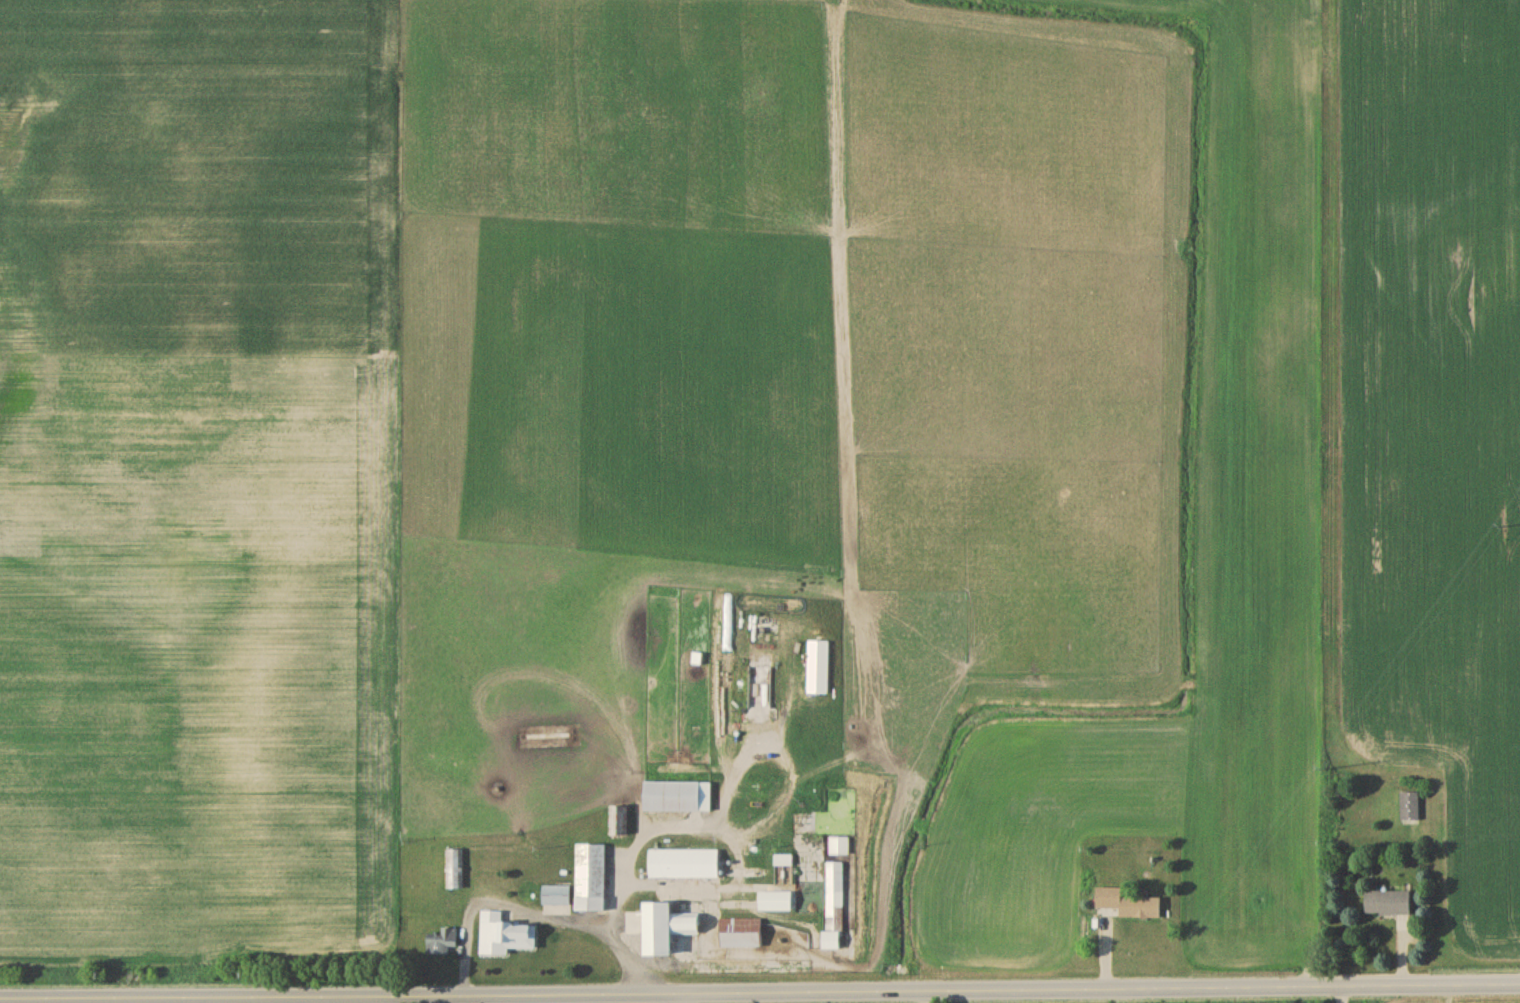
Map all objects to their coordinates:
road: (1315, 493)
building: (673, 799)
building: (1410, 809)
building: (619, 823)
building: (684, 867)
building: (454, 872)
building: (591, 881)
building: (834, 896)
building: (556, 898)
building: (1389, 906)
building: (1129, 907)
road: (498, 908)
road: (617, 926)
building: (667, 930)
building: (742, 935)
building: (505, 938)
building: (831, 943)
building: (443, 945)
road: (760, 992)
road: (1449, 994)

